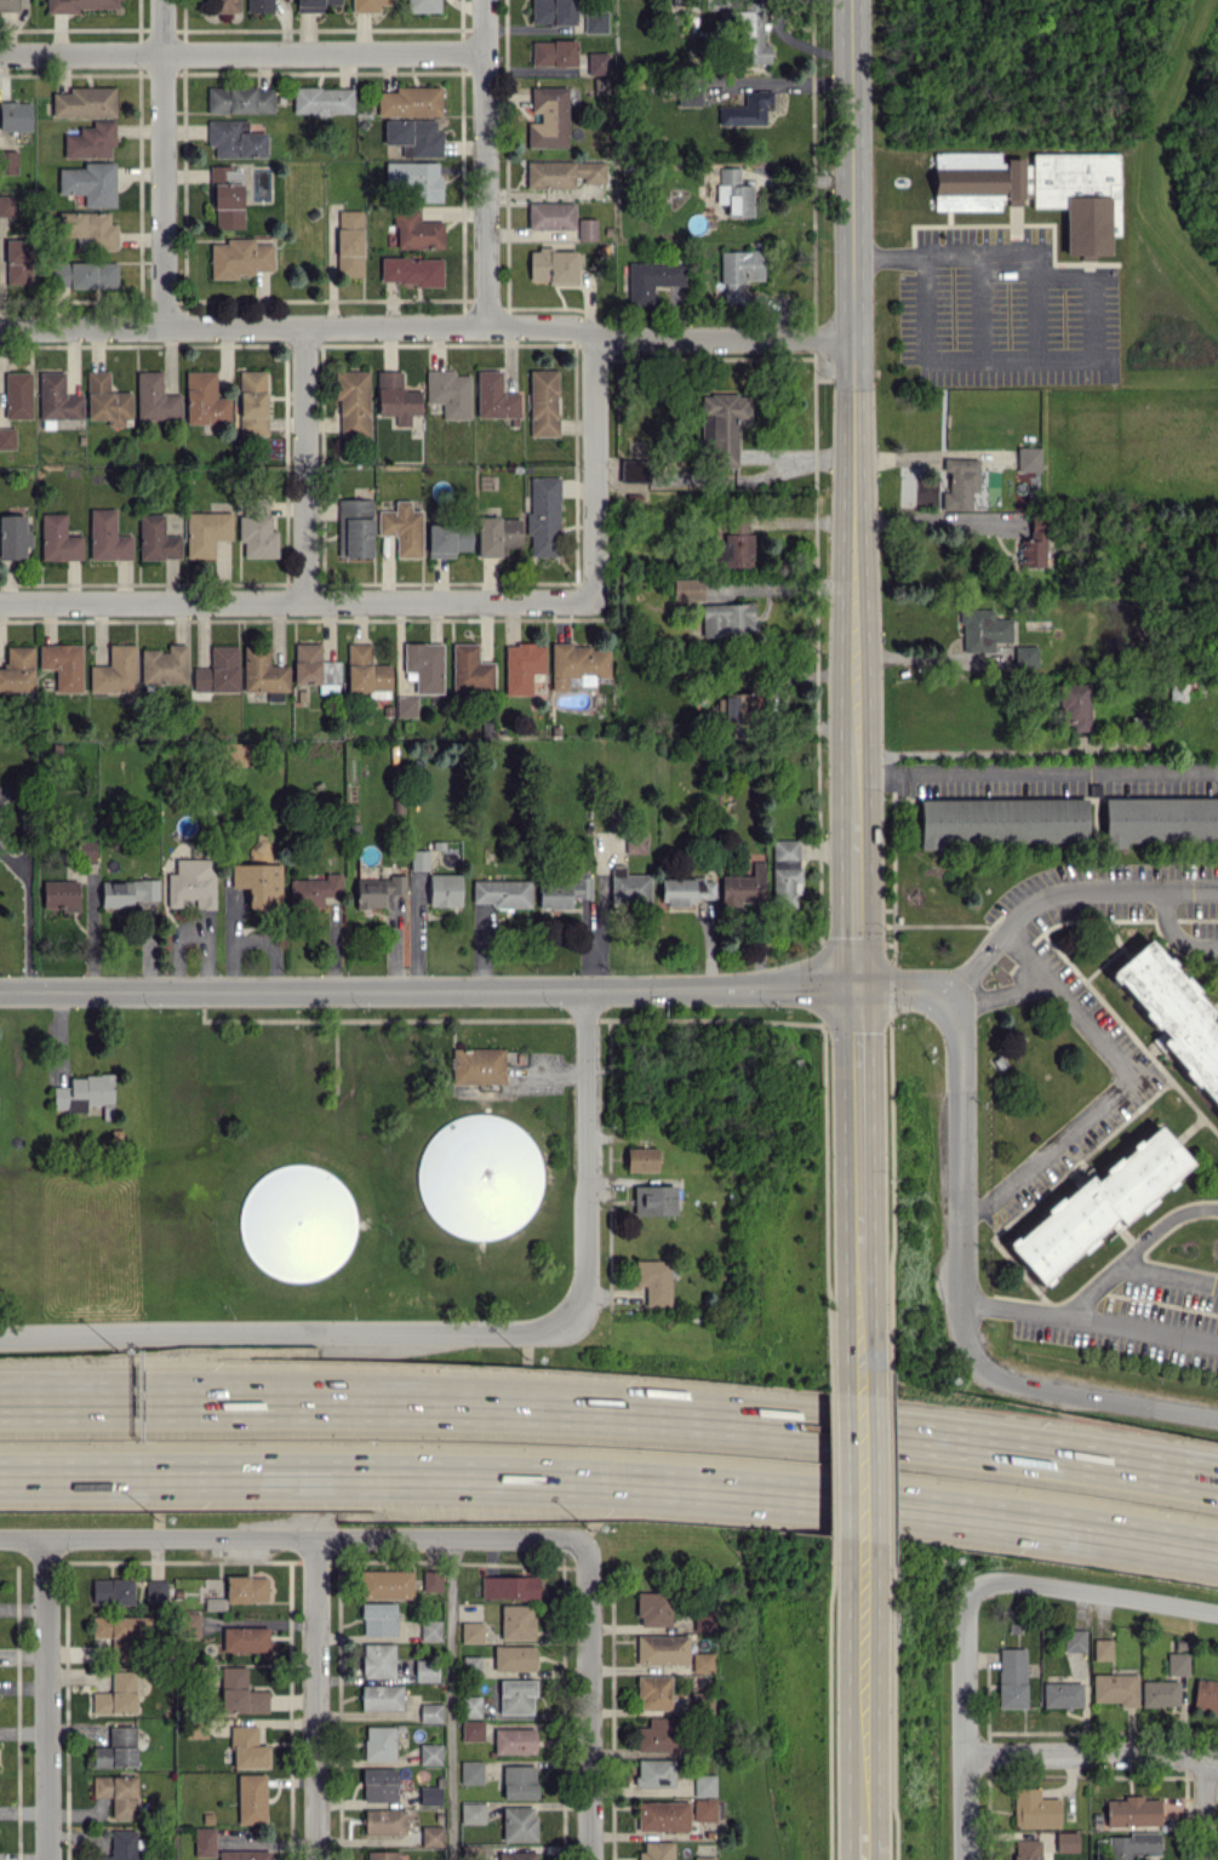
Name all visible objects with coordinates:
building: (551, 11)
building: (595, 21)
building: (751, 34)
road: (242, 52)
building: (553, 52)
building: (596, 62)
building: (688, 93)
building: (745, 109)
building: (548, 118)
road: (485, 161)
road: (162, 162)
building: (561, 173)
building: (1040, 189)
building: (733, 193)
building: (550, 216)
building: (585, 229)
building: (553, 265)
building: (738, 270)
building: (652, 279)
road: (427, 324)
road: (1087, 332)
building: (543, 402)
building: (722, 424)
building: (1028, 458)
road: (590, 463)
road: (307, 464)
building: (633, 470)
building: (681, 473)
building: (959, 483)
road: (851, 494)
building: (543, 516)
road: (930, 522)
building: (737, 544)
building: (1033, 544)
building: (687, 589)
road: (296, 605)
building: (726, 619)
building: (983, 629)
building: (1025, 657)
road: (914, 658)
building: (578, 664)
building: (1075, 704)
building: (738, 708)
road: (1034, 763)
building: (1160, 819)
building: (1002, 820)
building: (635, 842)
building: (784, 871)
building: (628, 886)
building: (743, 886)
building: (685, 889)
building: (564, 892)
road: (1065, 892)
road: (1177, 932)
road: (899, 988)
traffic signals: (852, 990)
road: (425, 991)
road: (997, 994)
building: (1172, 1014)
building: (476, 1065)
road: (1113, 1087)
building: (641, 1158)
road: (590, 1160)
building: (478, 1175)
storage tank: (478, 1175)
road: (853, 1178)
building: (654, 1200)
building: (1098, 1203)
building: (297, 1223)
storage tank: (297, 1223)
road: (1132, 1251)
road: (1166, 1275)
building: (654, 1281)
road: (963, 1299)
road: (1091, 1323)
road: (281, 1332)
road: (166, 1400)
road: (777, 1423)
road: (611, 1482)
road: (854, 1486)
road: (291, 1538)
road: (1094, 1591)
building: (654, 1608)
building: (704, 1620)
building: (516, 1621)
building: (1075, 1639)
building: (663, 1648)
building: (1102, 1648)
building: (514, 1658)
building: (703, 1661)
building: (1177, 1664)
building: (1012, 1677)
building: (1116, 1688)
building: (654, 1692)
building: (1160, 1693)
building: (1063, 1694)
building: (516, 1695)
building: (1206, 1695)
road: (451, 1698)
road: (44, 1699)
road: (314, 1699)
road: (588, 1701)
road: (962, 1723)
road: (856, 1732)
building: (657, 1735)
building: (515, 1740)
road: (1090, 1752)
building: (654, 1773)
building: (519, 1781)
building: (705, 1785)
building: (1035, 1808)
road: (1203, 1808)
building: (704, 1809)
building: (1132, 1812)
building: (663, 1815)
building: (519, 1824)
building: (1067, 1841)
building: (1133, 1845)
building: (1027, 1849)
building: (657, 1850)
building: (515, 1855)
building: (704, 1858)

